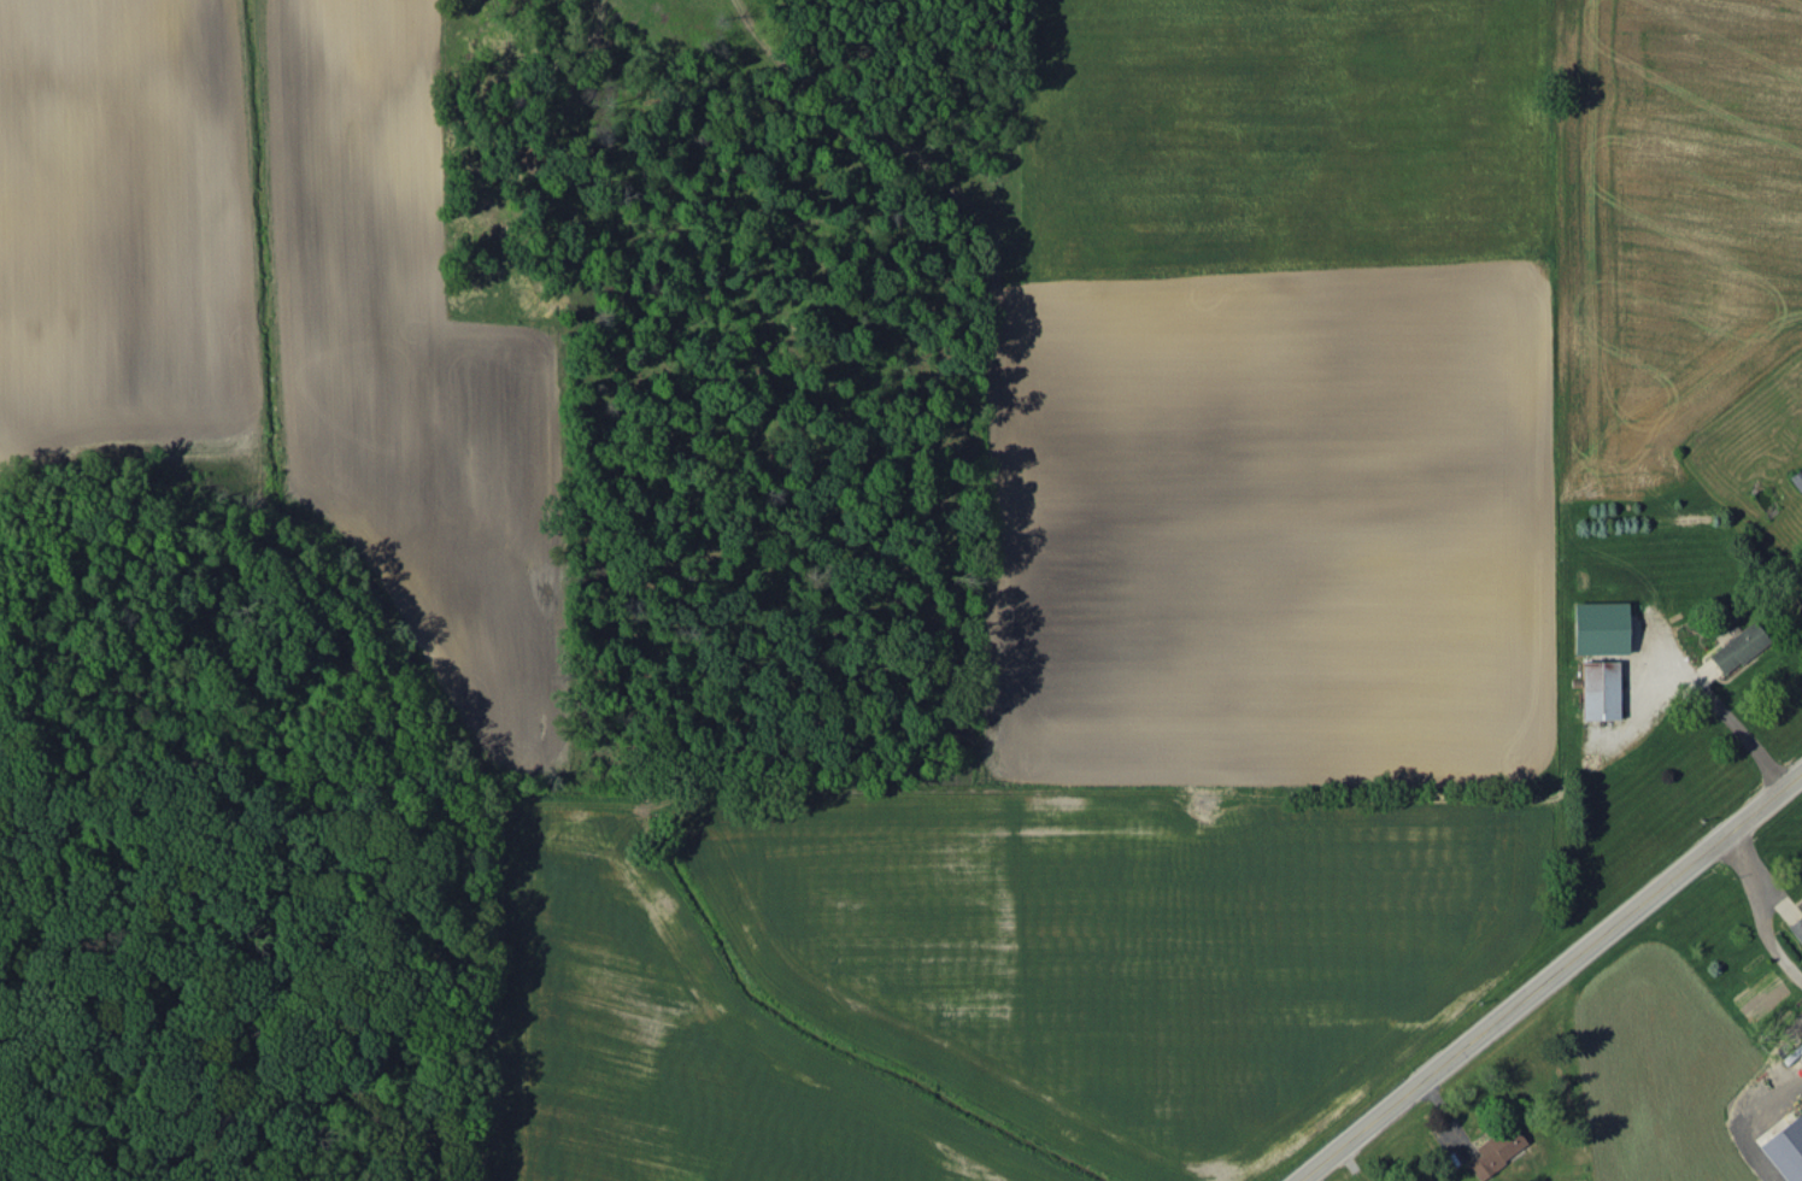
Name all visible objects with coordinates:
building: (1604, 629)
building: (1736, 648)
building: (1600, 689)
road: (1727, 728)
road: (1759, 905)
building: (1796, 928)
road: (1545, 971)
building: (1786, 1148)
building: (1496, 1151)

